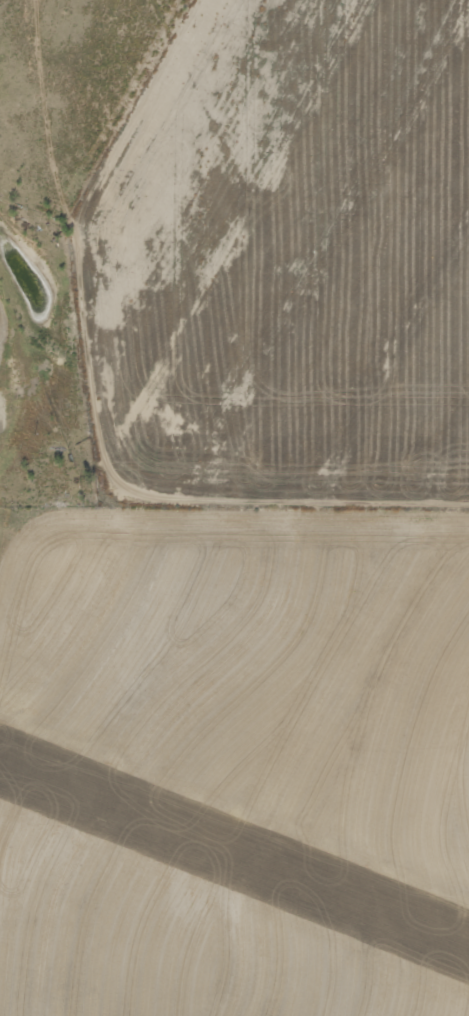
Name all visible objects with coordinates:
road: (299, 539)

